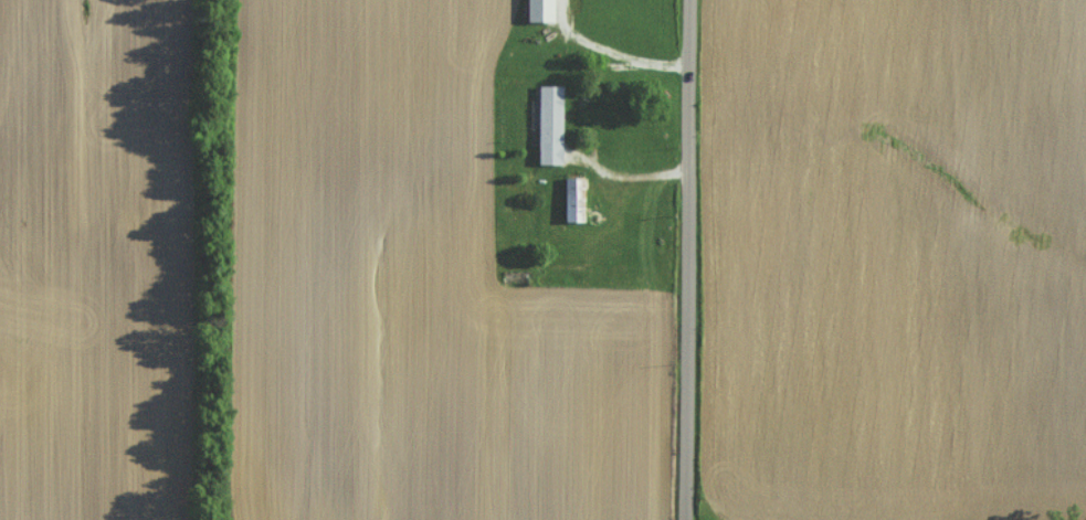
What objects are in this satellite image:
building: (539, 10)
building: (549, 125)
building: (571, 195)
road: (694, 259)

